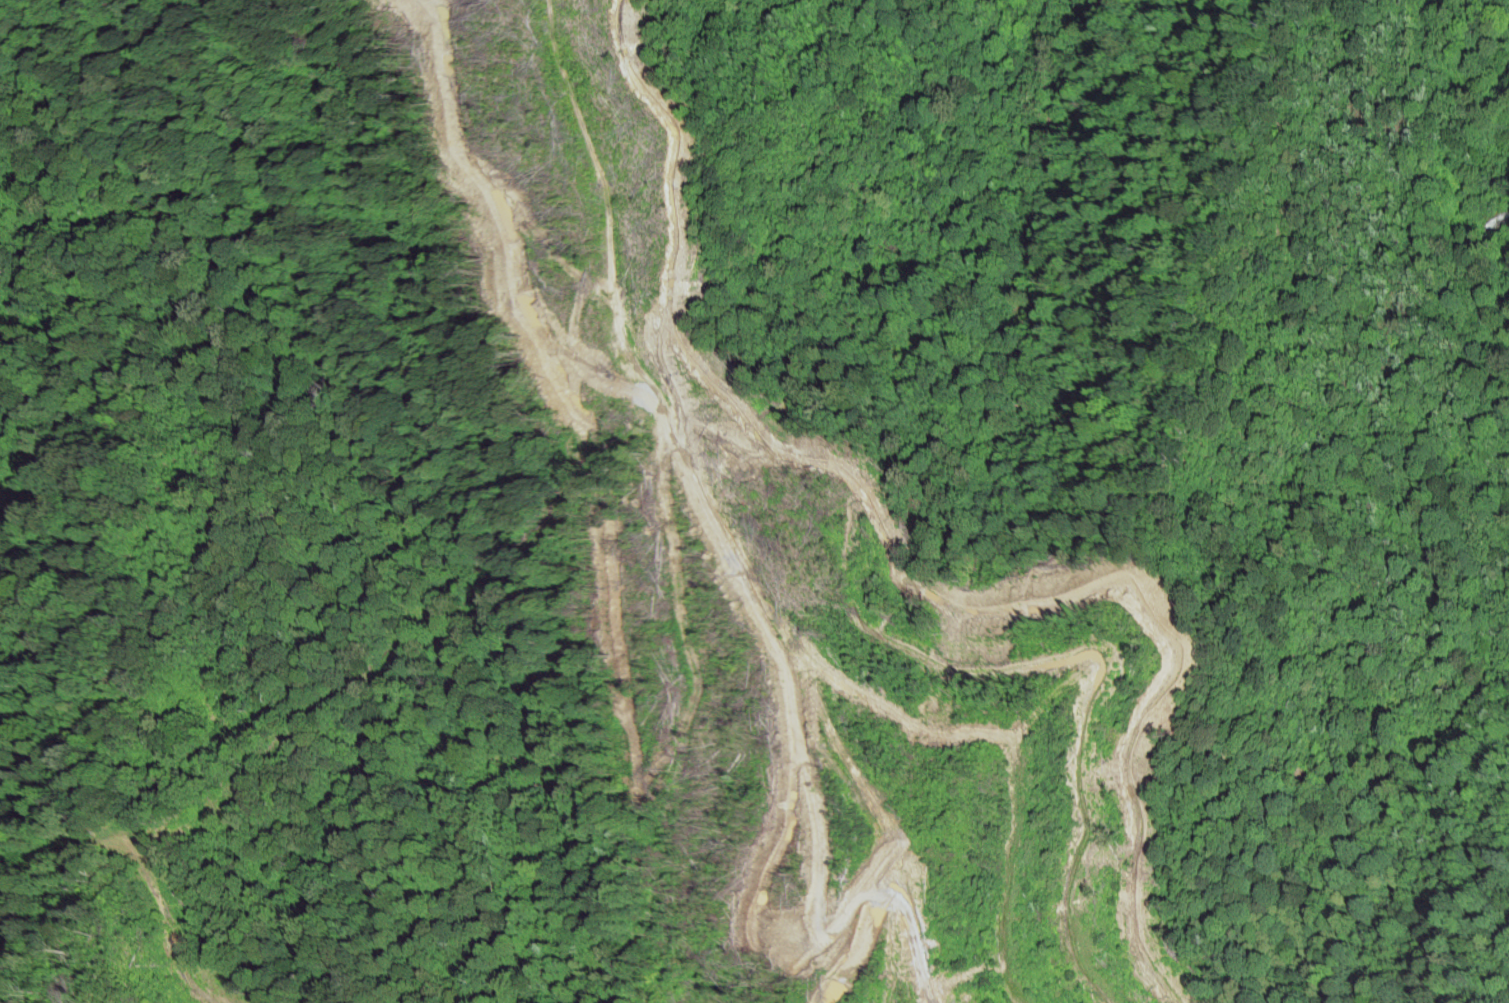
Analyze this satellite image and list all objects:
quarry: (779, 576)
quarry: (163, 954)

